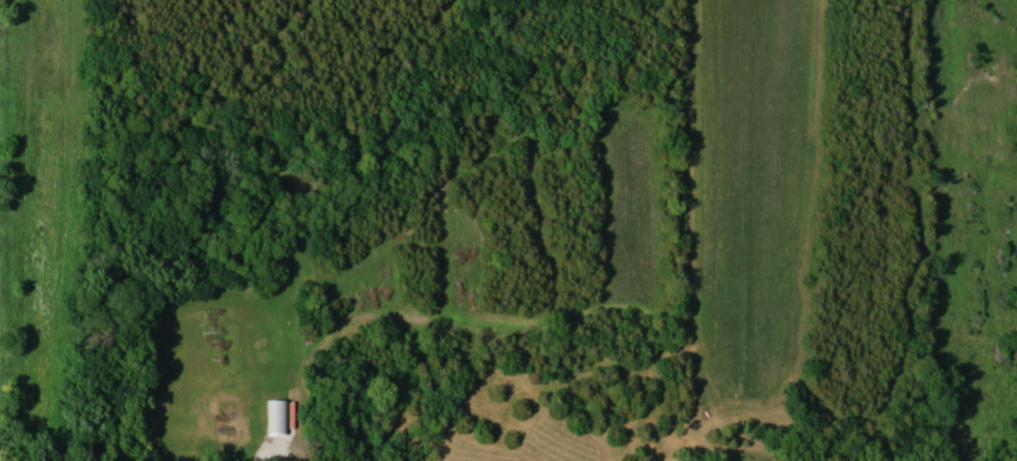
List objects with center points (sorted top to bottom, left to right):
building: (276, 416)
road: (277, 460)

